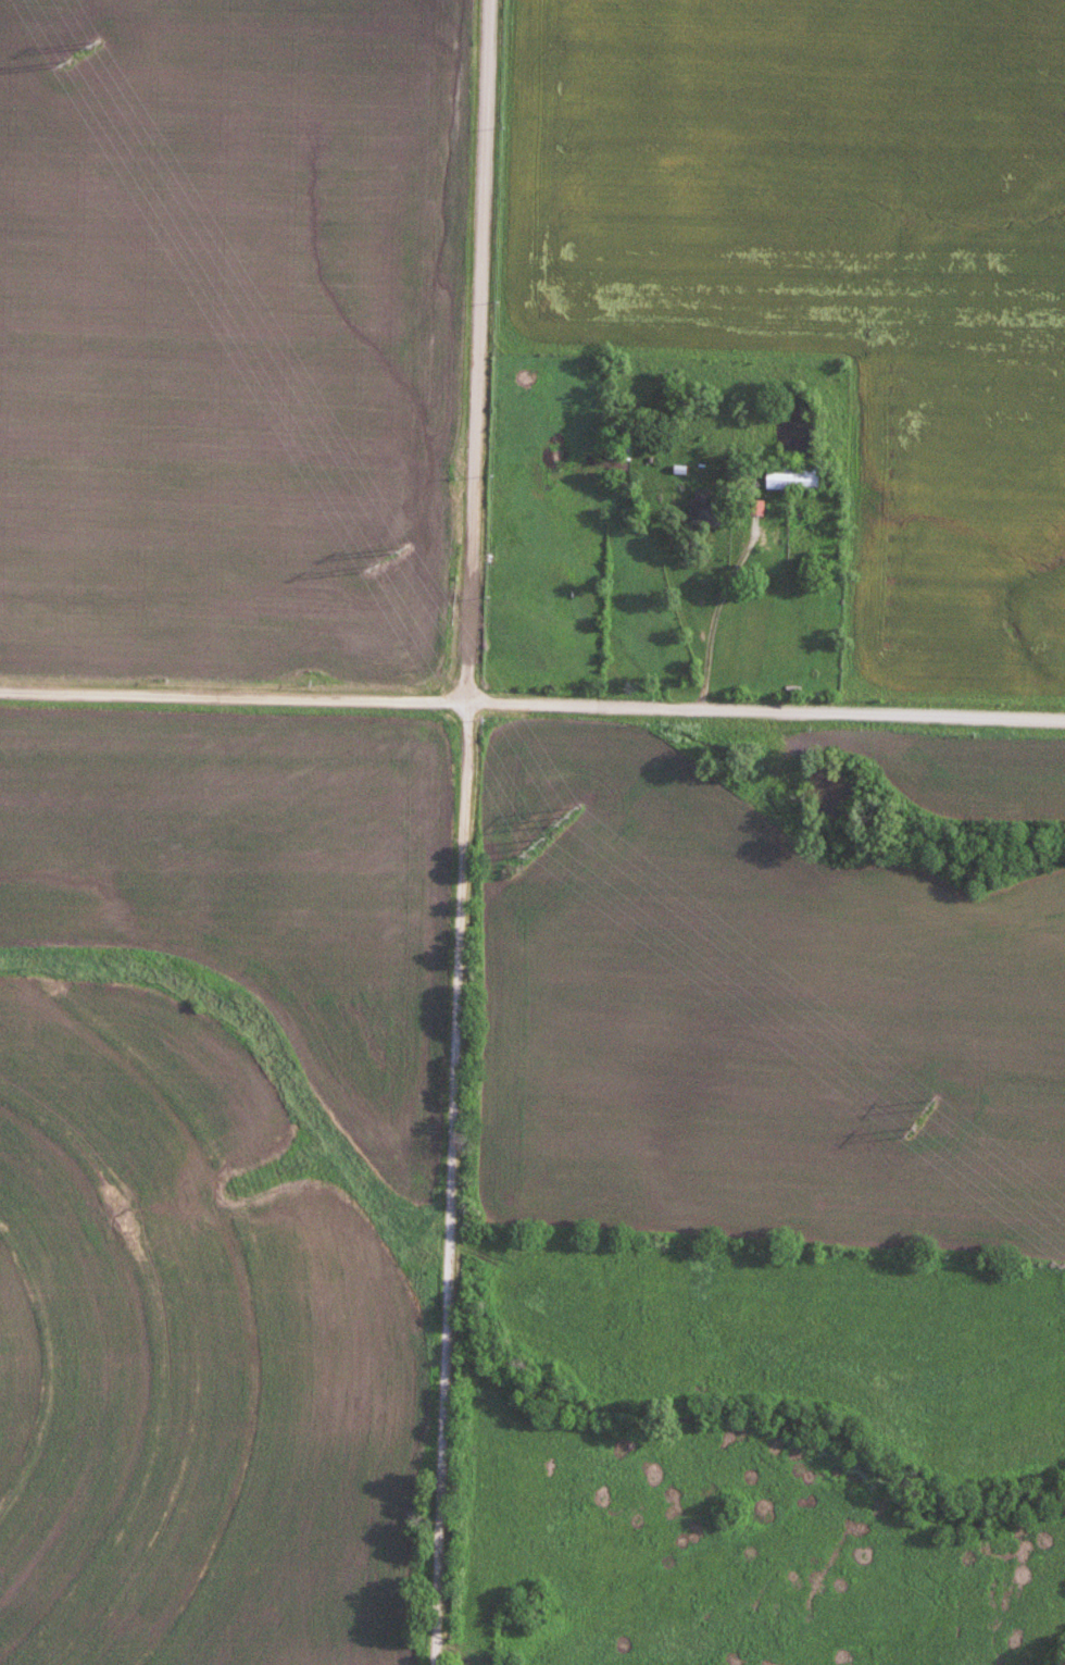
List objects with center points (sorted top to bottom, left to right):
power tower: (92, 44)
power tower: (59, 64)
road: (478, 350)
building: (791, 476)
building: (704, 506)
power tower: (402, 549)
power tower: (367, 571)
road: (713, 611)
road: (231, 695)
road: (764, 711)
power tower: (565, 815)
power tower: (530, 848)
power tower: (929, 1101)
power tower: (909, 1131)
road: (452, 1183)

